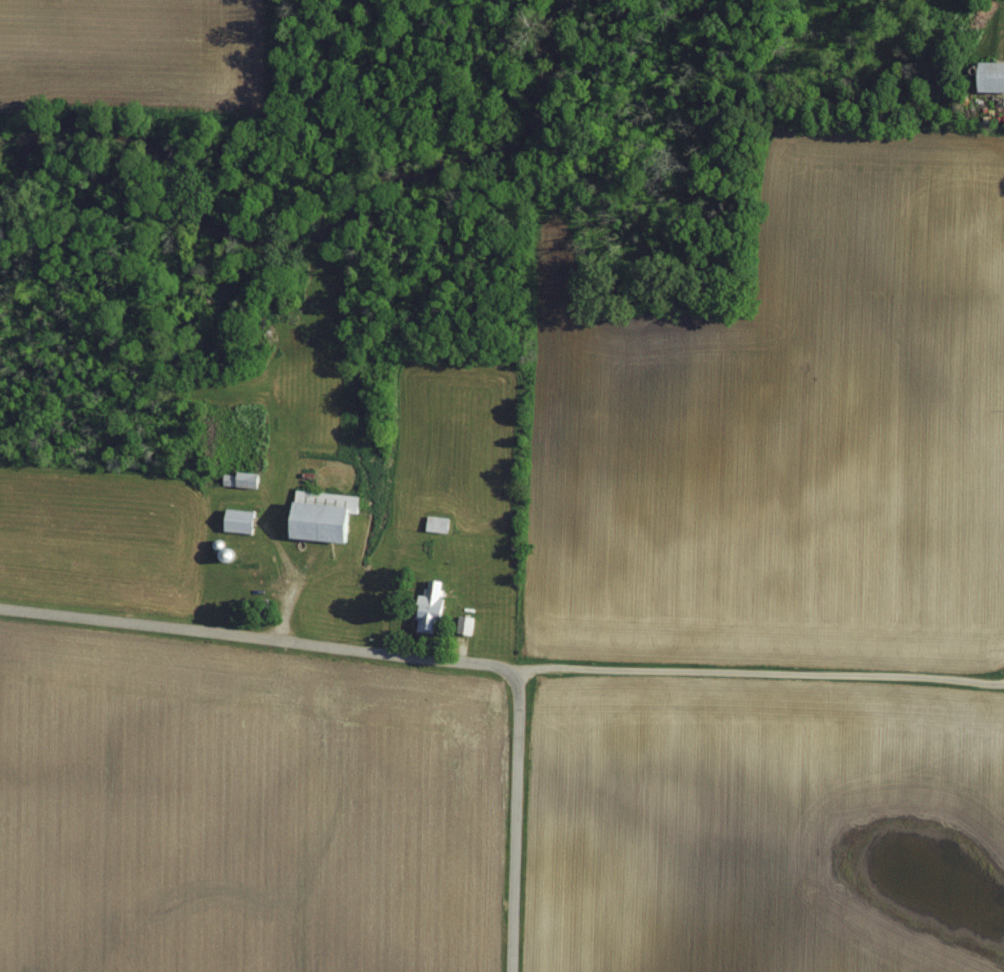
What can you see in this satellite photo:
river: (326, 181)
road: (403, 655)
road: (754, 674)

